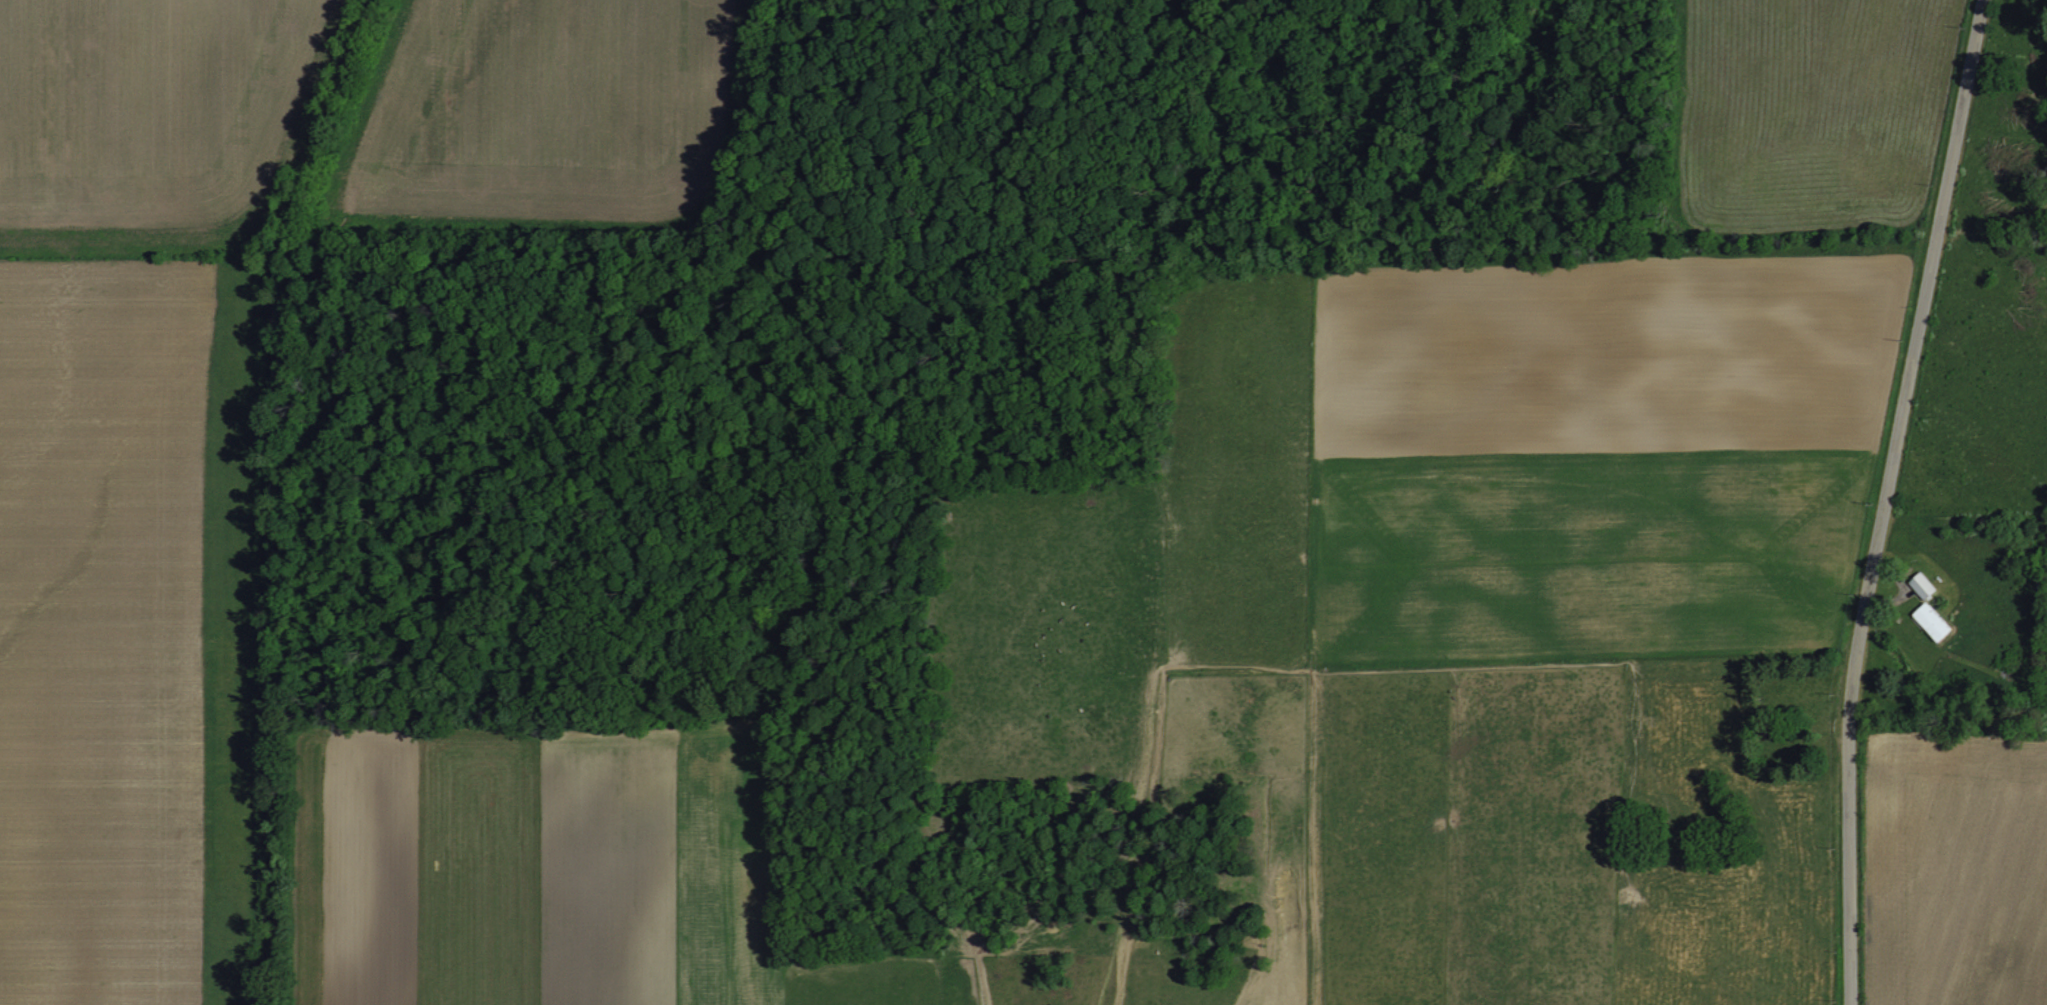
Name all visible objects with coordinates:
road: (1883, 499)
building: (1922, 585)
building: (1931, 621)

